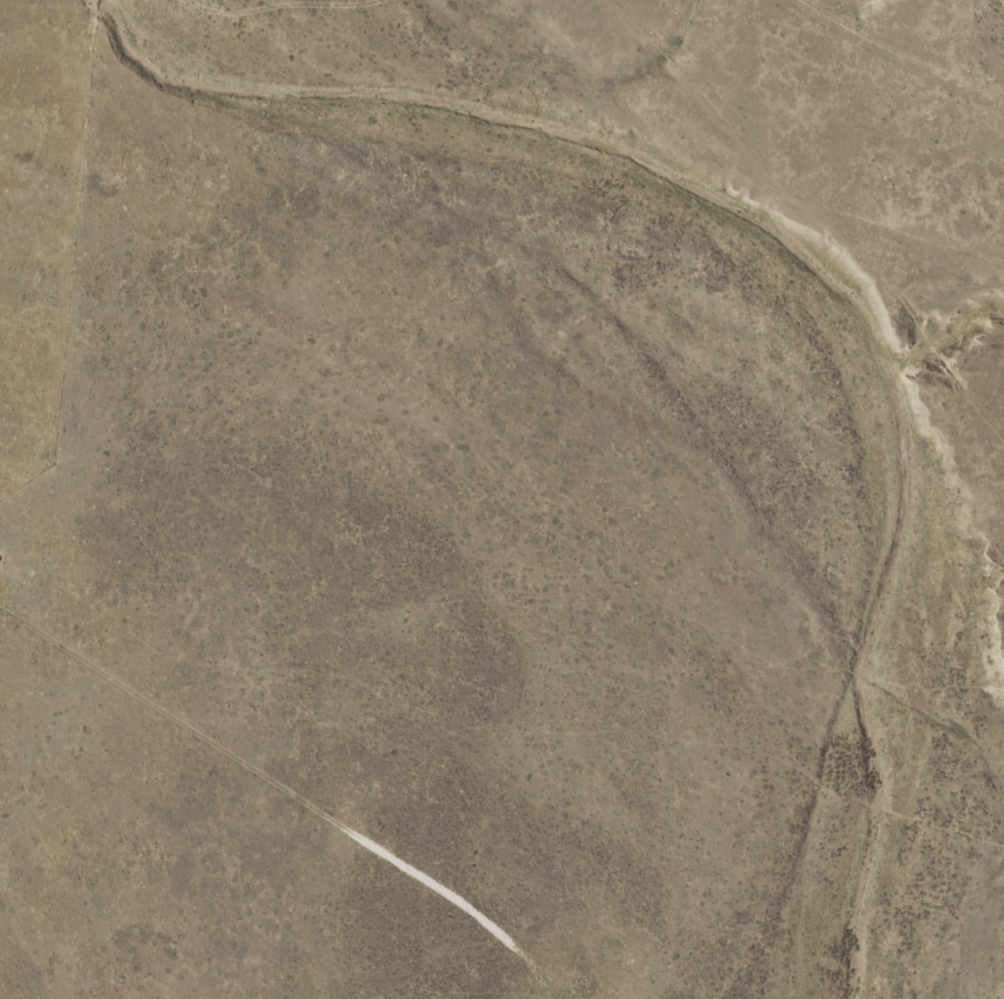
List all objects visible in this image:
road: (290, 792)

